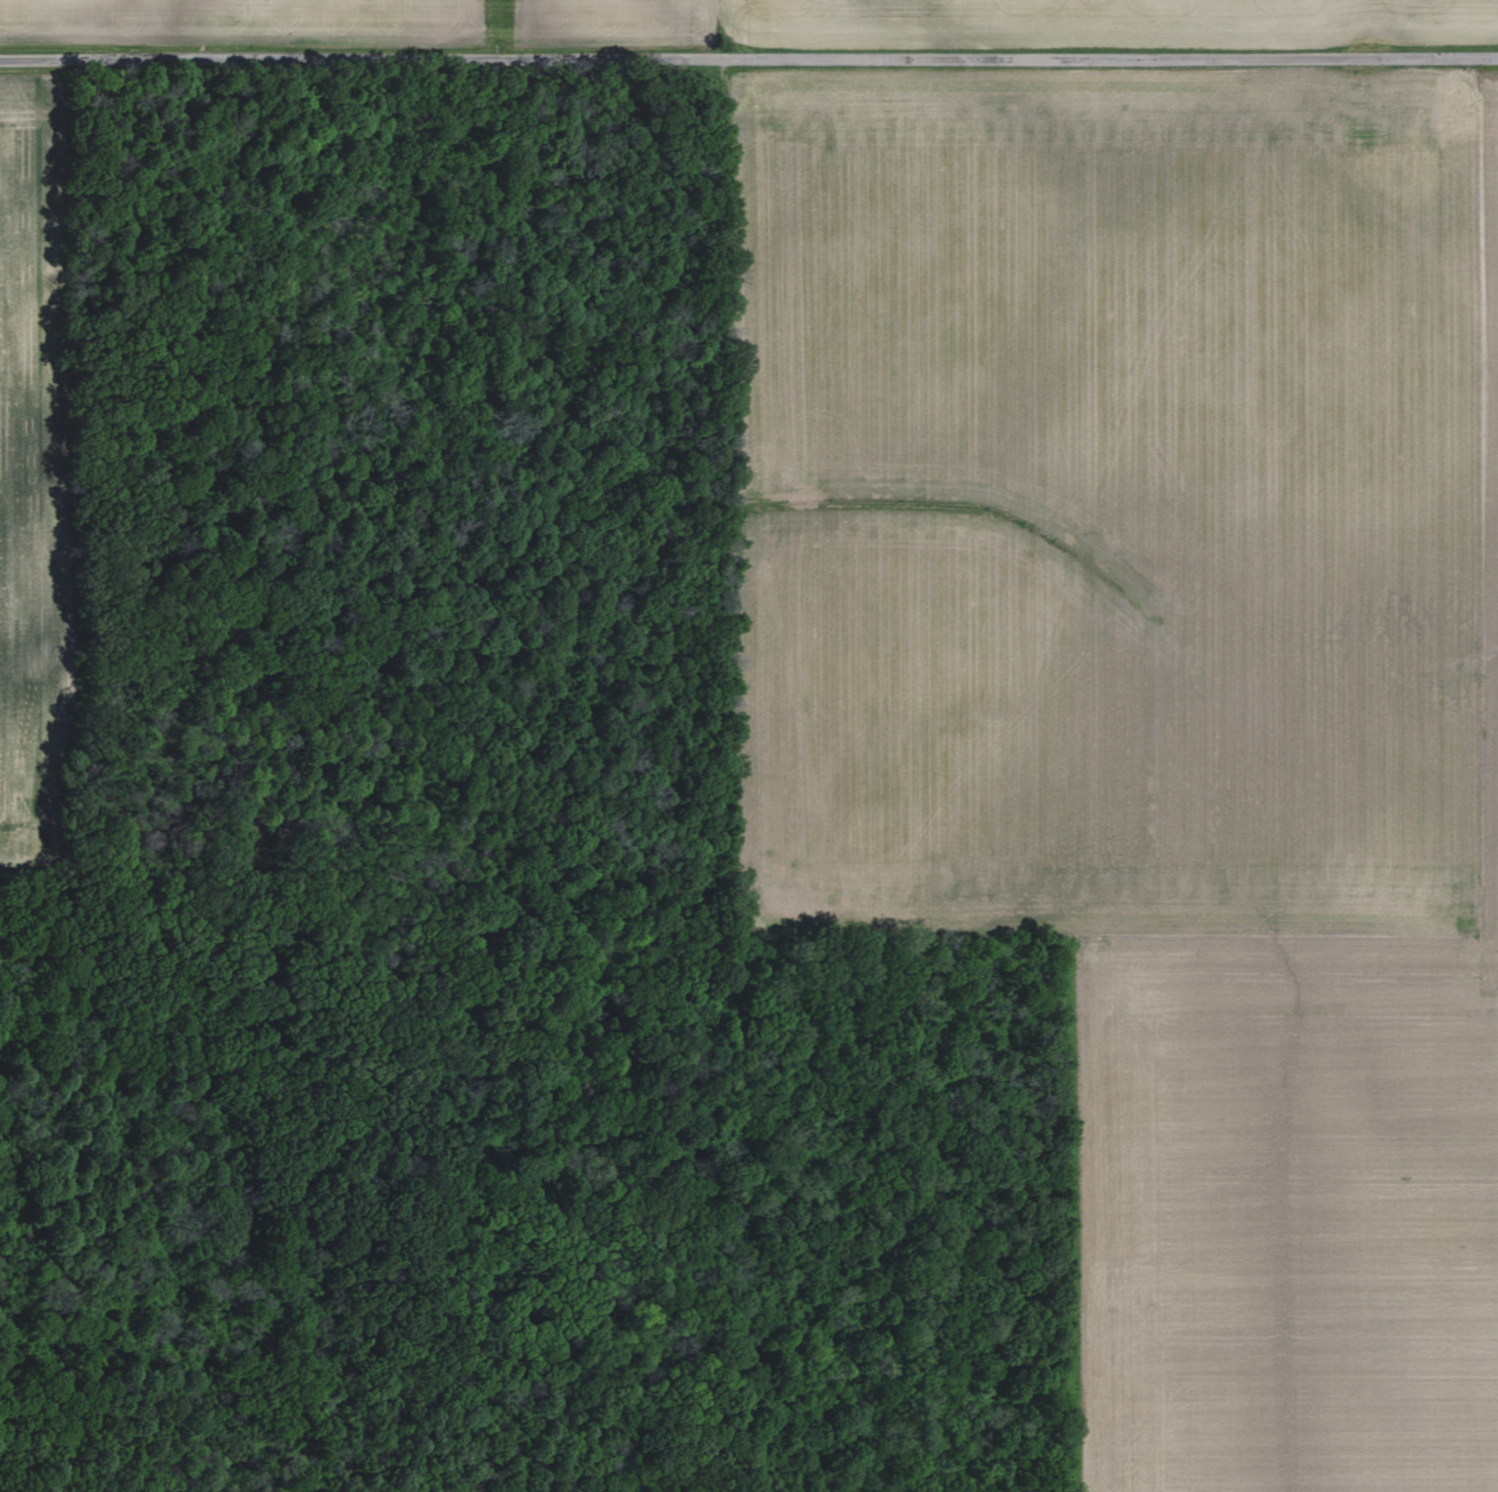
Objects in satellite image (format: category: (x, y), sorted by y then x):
road: (748, 58)

